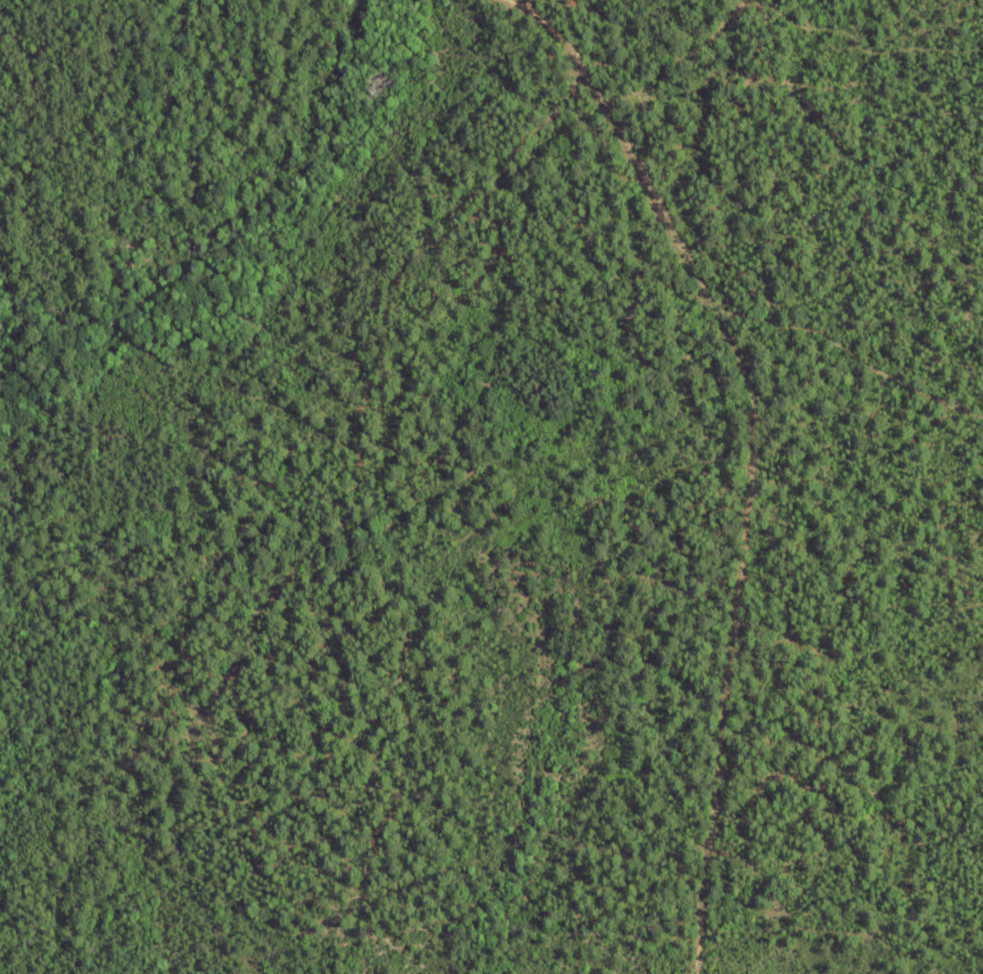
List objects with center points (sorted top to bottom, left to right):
road: (757, 448)

